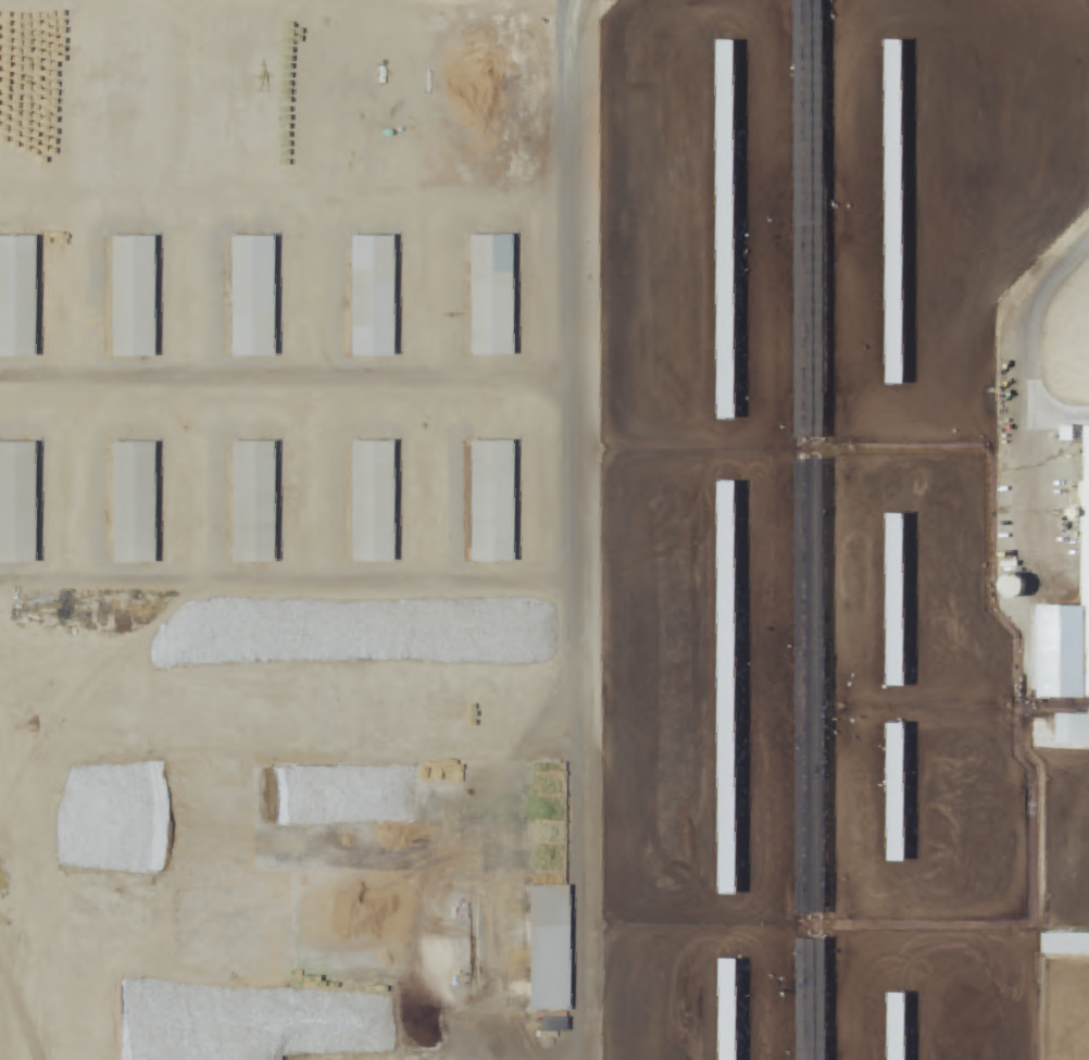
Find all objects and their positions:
building: (894, 213)
building: (726, 230)
building: (479, 296)
building: (12, 297)
building: (121, 297)
building: (241, 297)
building: (361, 297)
building: (12, 502)
building: (123, 502)
building: (241, 502)
building: (361, 502)
building: (480, 502)
building: (727, 528)
road: (584, 529)
building: (896, 600)
building: (1066, 627)
building: (1073, 729)
building: (897, 793)
building: (728, 822)
building: (1066, 945)
building: (540, 949)
building: (728, 1010)
building: (897, 1026)

